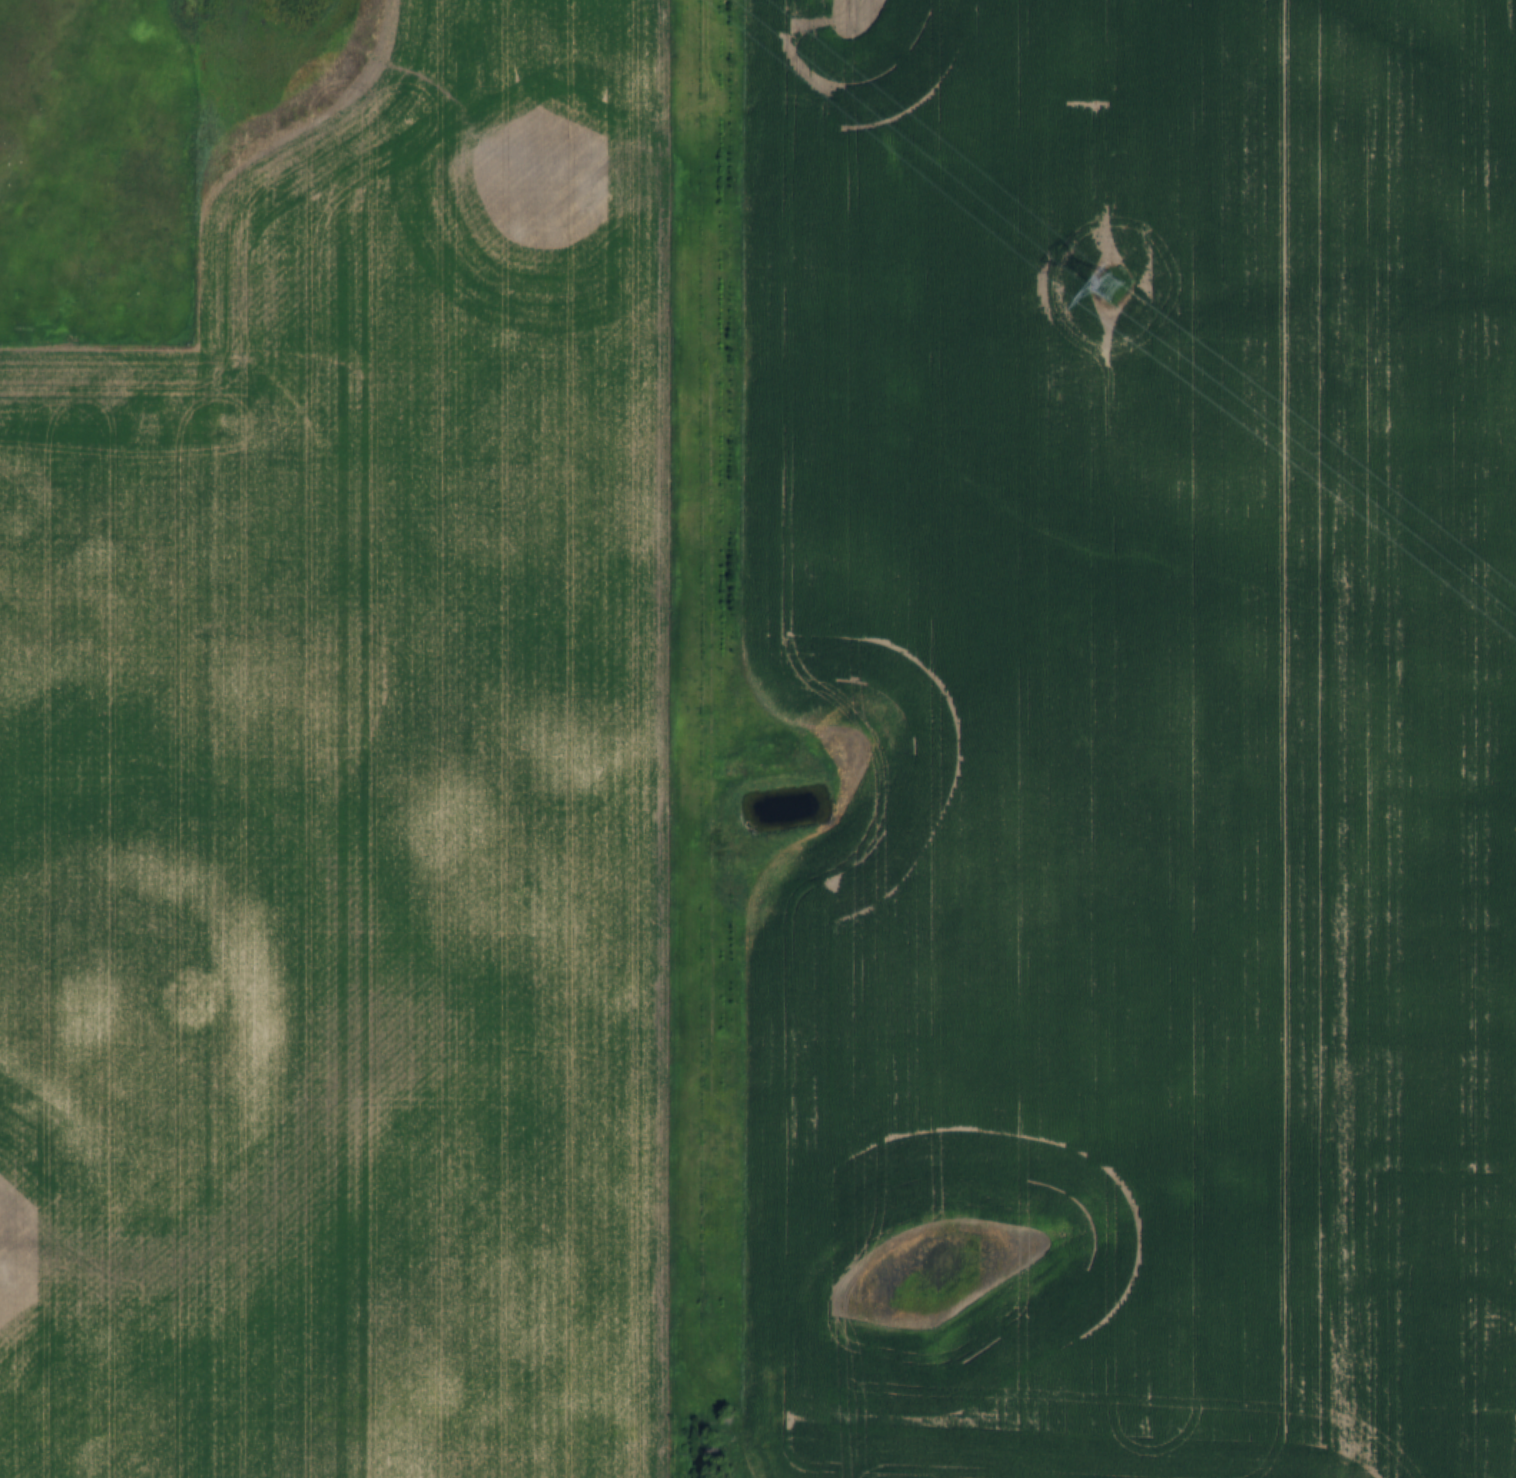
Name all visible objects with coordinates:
power tower: (1107, 288)

